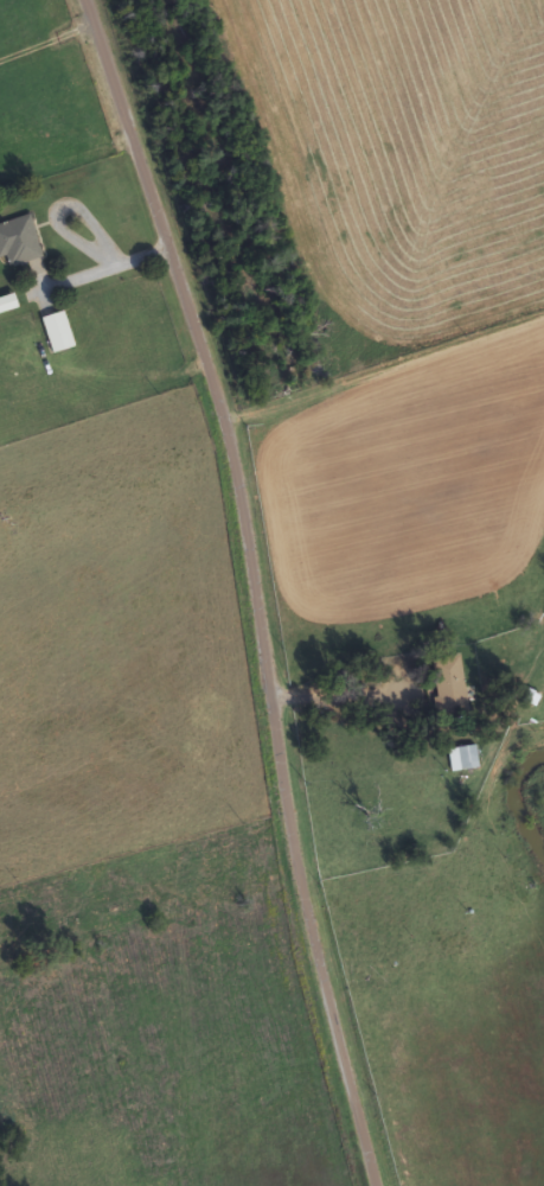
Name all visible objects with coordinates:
building: (19, 241)
building: (58, 332)
road: (384, 370)
road: (254, 587)
building: (449, 687)
building: (463, 759)

